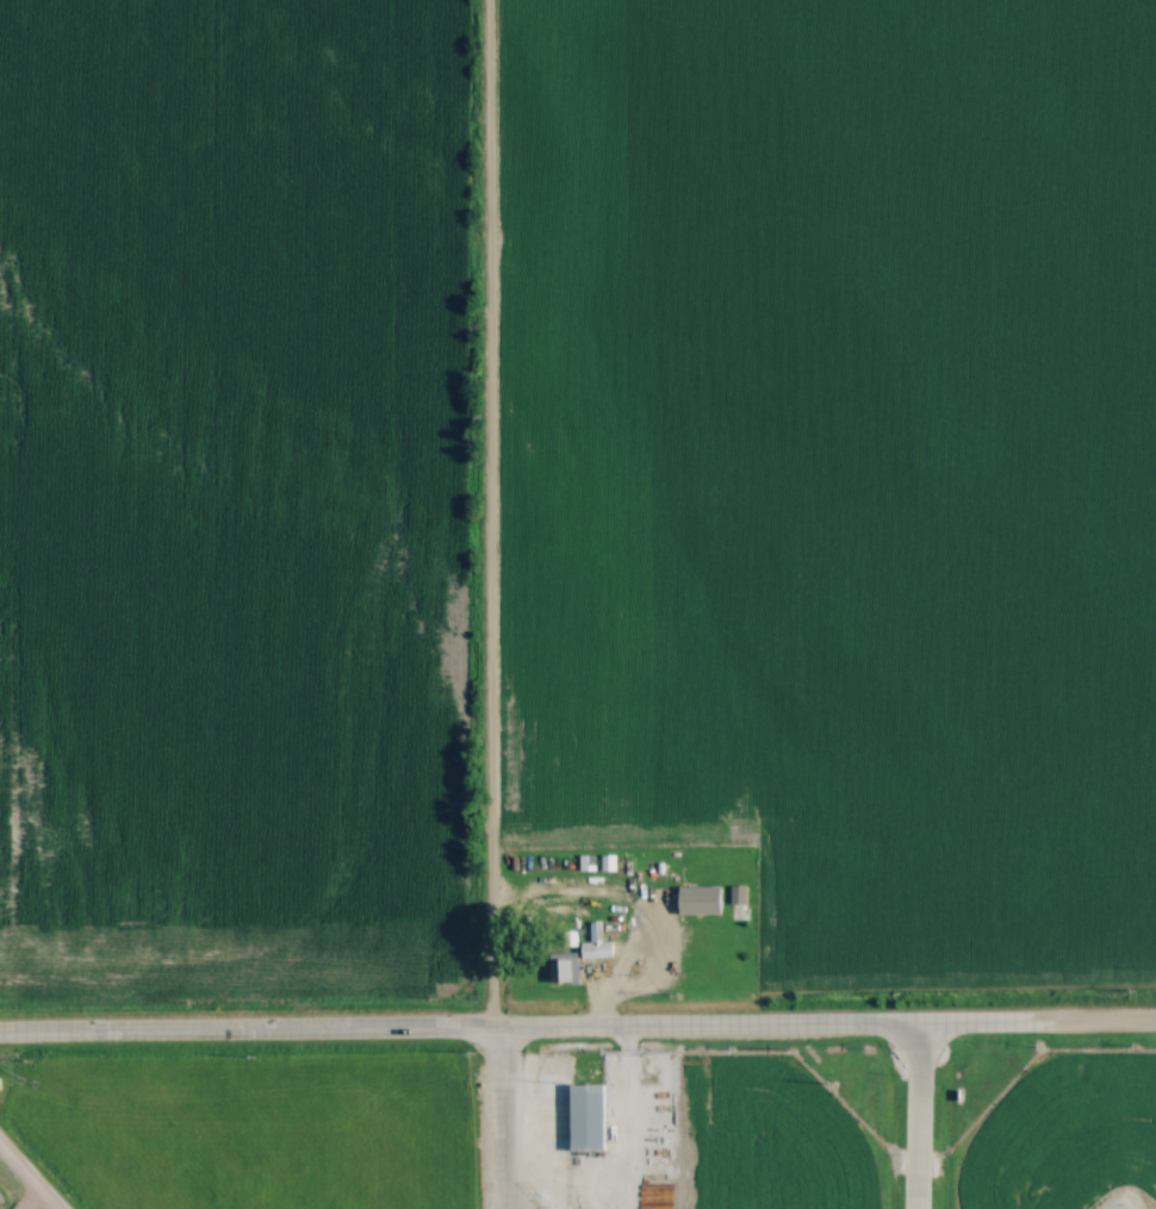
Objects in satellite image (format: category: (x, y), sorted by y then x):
road: (489, 513)
building: (708, 899)
building: (597, 949)
road: (638, 949)
building: (565, 967)
road: (832, 1022)
road: (254, 1029)
road: (918, 1115)
building: (589, 1116)
road: (510, 1117)
road: (620, 1153)
power substation: (1123, 1207)

